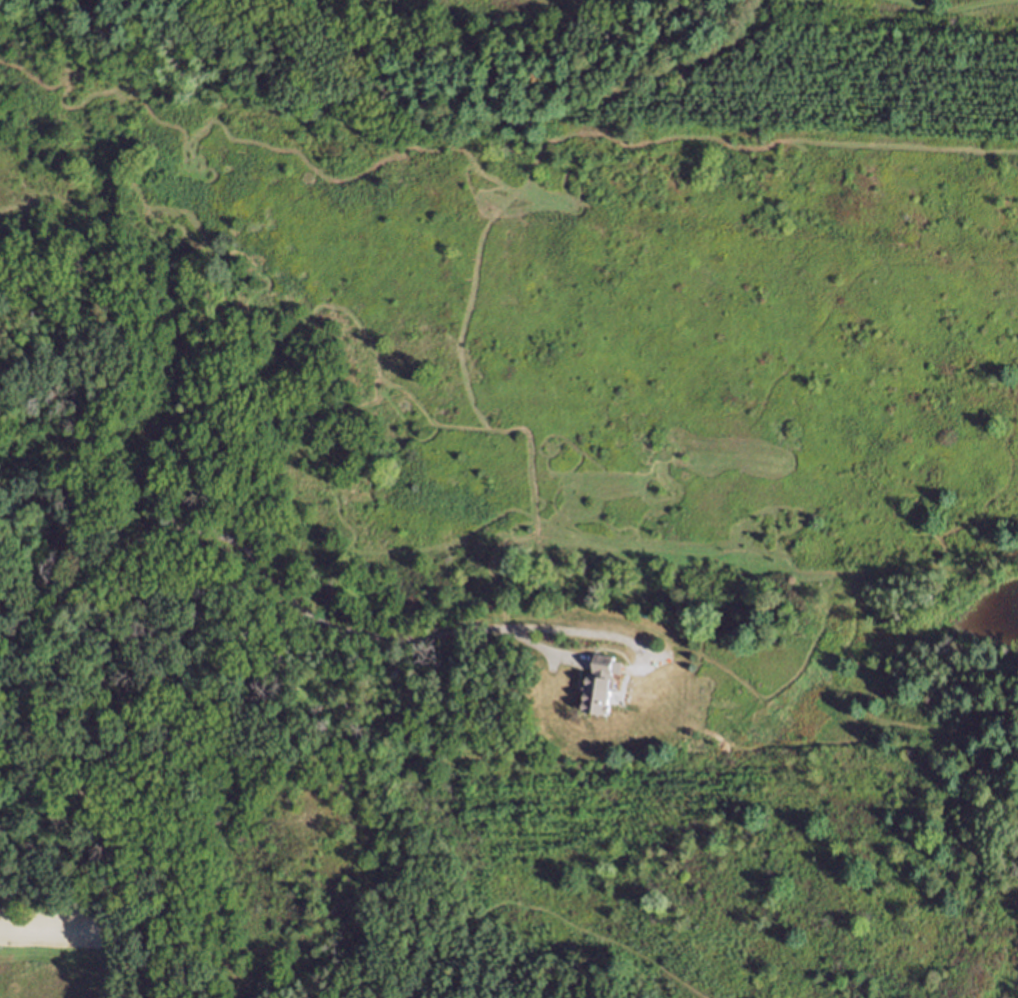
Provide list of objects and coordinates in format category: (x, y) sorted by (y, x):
road: (269, 574)
building: (597, 686)

